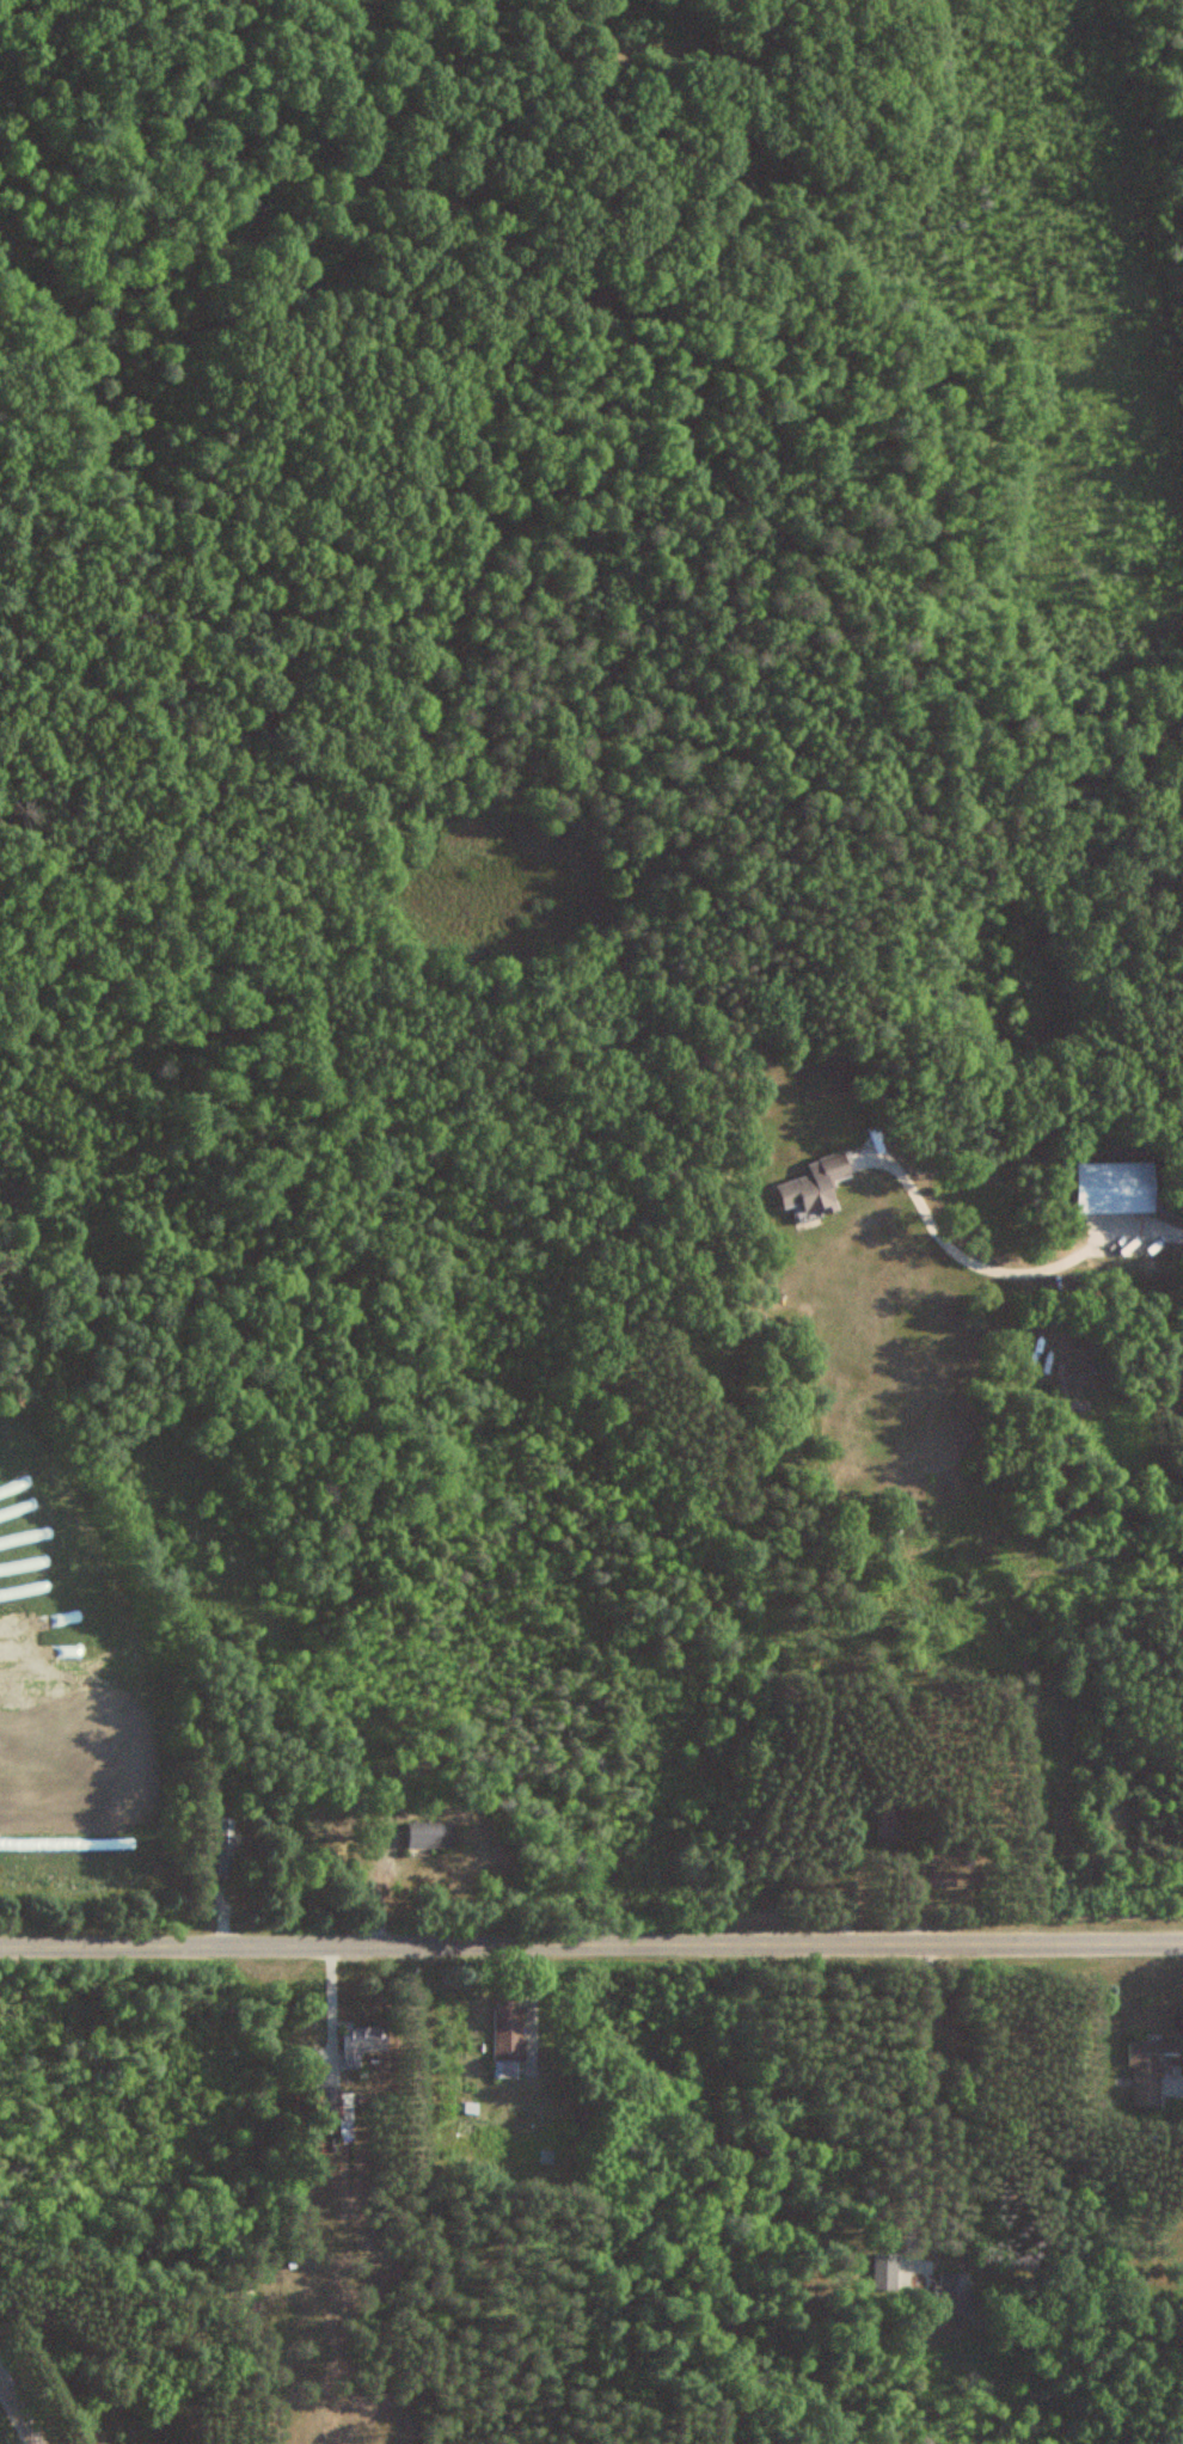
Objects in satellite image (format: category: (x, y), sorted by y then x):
building: (820, 1184)
building: (1117, 1187)
building: (893, 1825)
building: (433, 1833)
building: (225, 1846)
building: (945, 1879)
road: (591, 1942)
building: (509, 2038)
building: (363, 2042)
building: (1153, 2069)
road: (934, 2099)
building: (349, 2114)
building: (885, 2271)
building: (956, 2292)
road: (17, 2408)

